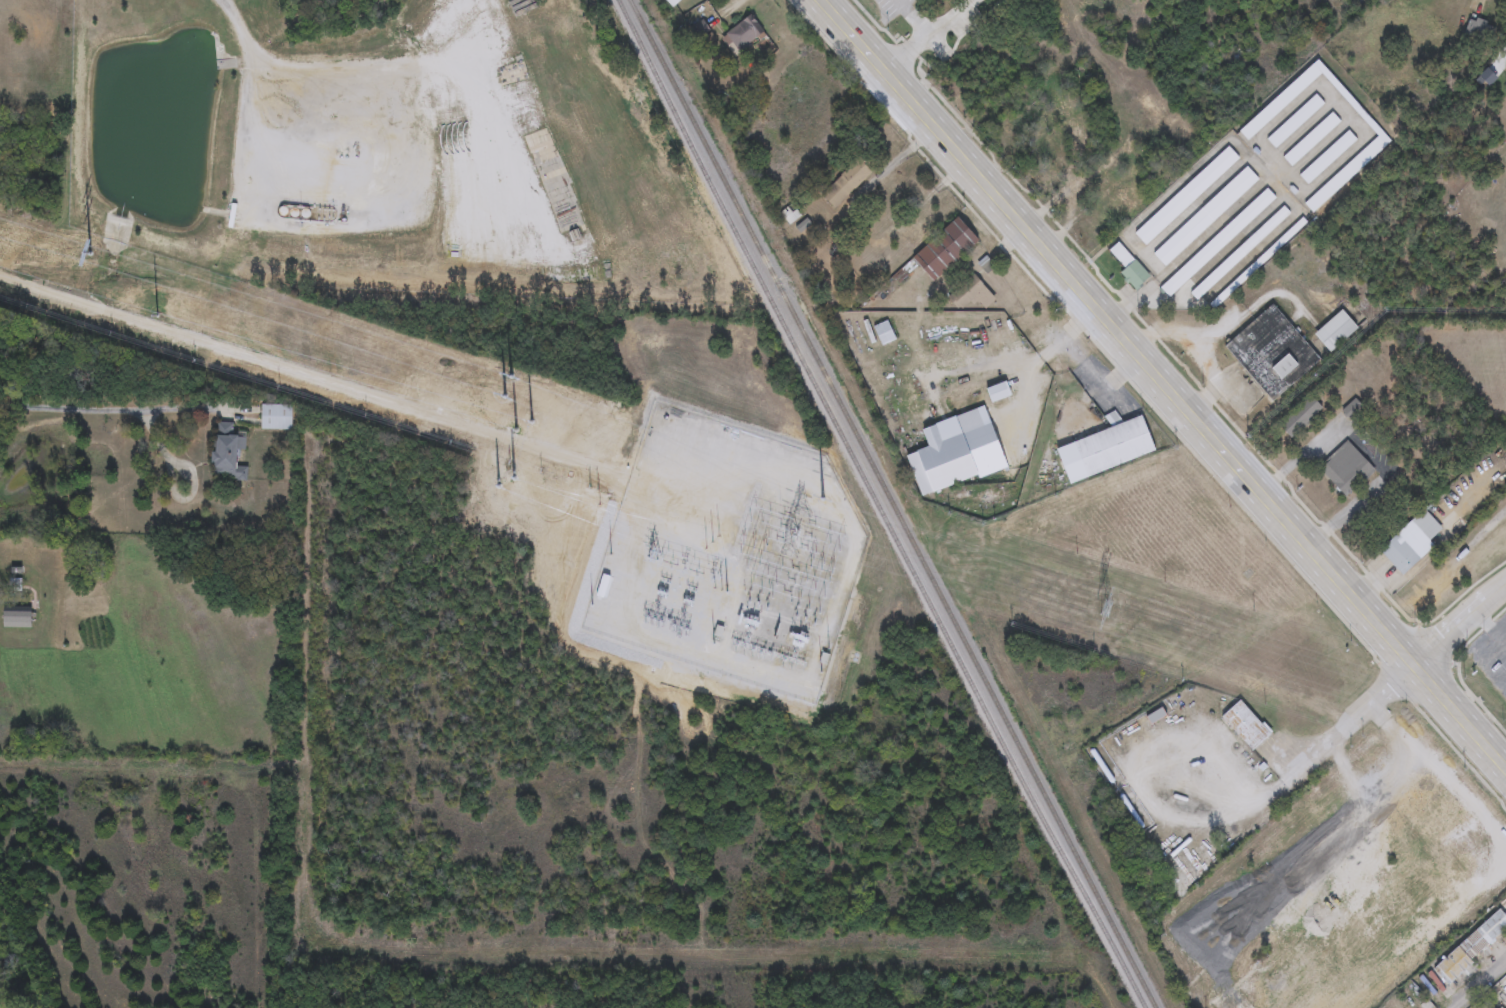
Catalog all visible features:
building: (672, 2)
road: (731, 5)
road: (716, 16)
building: (1481, 30)
building: (744, 35)
road: (935, 40)
road: (1502, 57)
road: (285, 68)
building: (1073, 110)
building: (1295, 122)
building: (1247, 135)
building: (1312, 140)
building: (1327, 158)
road: (897, 159)
building: (847, 183)
road: (1275, 188)
building: (1187, 196)
building: (1124, 203)
building: (789, 214)
building: (1206, 216)
building: (913, 234)
building: (1218, 243)
building: (947, 249)
building: (1241, 252)
building: (1130, 267)
building: (973, 293)
power tower: (158, 304)
building: (1336, 332)
road: (1197, 350)
building: (1273, 354)
road: (1078, 366)
road: (315, 376)
road: (1163, 384)
building: (998, 393)
power tower: (479, 407)
road: (99, 410)
building: (276, 417)
building: (1301, 417)
building: (1106, 450)
road: (1359, 450)
building: (227, 452)
building: (957, 452)
building: (1346, 469)
power tower: (811, 492)
railway: (891, 504)
railway: (877, 505)
power substation: (739, 539)
building: (1412, 543)
power tower: (1105, 609)
building: (17, 620)
road: (1458, 623)
road: (1485, 623)
road: (1501, 631)
road: (1485, 663)
building: (1245, 726)
road: (1283, 779)
building: (1472, 947)
road: (1481, 982)
building: (1501, 993)
building: (1484, 1006)

